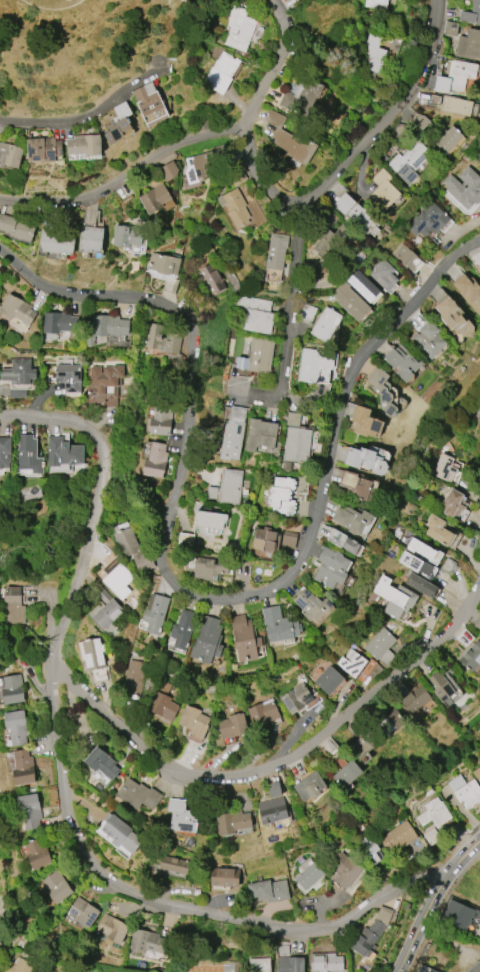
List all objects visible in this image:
building: (376, 4)
road: (56, 9)
building: (471, 13)
building: (239, 28)
building: (450, 28)
building: (469, 44)
park: (73, 46)
building: (372, 55)
road: (271, 69)
building: (222, 73)
building: (456, 77)
building: (303, 96)
building: (151, 104)
building: (457, 105)
road: (83, 117)
building: (119, 123)
building: (449, 139)
building: (291, 140)
building: (85, 145)
building: (45, 149)
road: (352, 154)
building: (10, 155)
building: (409, 162)
building: (198, 168)
building: (169, 171)
road: (119, 182)
building: (385, 190)
building: (463, 190)
building: (154, 198)
building: (235, 207)
building: (354, 212)
building: (428, 220)
building: (16, 227)
building: (128, 235)
building: (91, 239)
building: (331, 241)
building: (57, 243)
building: (277, 251)
building: (406, 257)
building: (164, 263)
building: (478, 268)
building: (383, 274)
building: (213, 278)
building: (169, 286)
building: (363, 286)
building: (469, 291)
building: (350, 301)
building: (18, 309)
building: (255, 313)
road: (290, 315)
building: (455, 318)
building: (60, 322)
building: (109, 325)
building: (325, 326)
building: (153, 337)
building: (428, 340)
building: (260, 355)
building: (403, 361)
building: (313, 364)
building: (19, 377)
building: (70, 377)
building: (104, 383)
road: (188, 386)
building: (383, 390)
road: (336, 417)
building: (160, 421)
building: (366, 423)
building: (260, 435)
building: (232, 436)
building: (297, 440)
building: (478, 441)
building: (63, 452)
building: (5, 453)
building: (28, 454)
building: (369, 459)
building: (157, 461)
building: (446, 468)
building: (359, 485)
building: (227, 488)
building: (282, 495)
building: (454, 504)
building: (211, 519)
building: (352, 519)
building: (438, 530)
building: (323, 531)
building: (128, 542)
building: (265, 542)
building: (343, 542)
building: (422, 549)
building: (416, 564)
building: (207, 567)
building: (332, 568)
building: (118, 578)
building: (421, 585)
building: (396, 597)
building: (312, 605)
building: (15, 607)
building: (105, 611)
building: (156, 614)
building: (478, 623)
building: (280, 624)
building: (184, 629)
building: (246, 638)
building: (208, 640)
building: (382, 647)
building: (472, 656)
building: (94, 659)
building: (352, 663)
building: (133, 678)
building: (329, 679)
building: (441, 687)
building: (13, 689)
building: (300, 698)
building: (416, 700)
building: (163, 703)
building: (264, 713)
building: (391, 719)
building: (194, 721)
building: (233, 726)
building: (17, 727)
building: (365, 743)
road: (277, 761)
building: (105, 764)
building: (23, 767)
building: (347, 774)
building: (477, 774)
building: (310, 786)
building: (273, 789)
building: (465, 791)
building: (139, 795)
road: (64, 799)
building: (30, 811)
building: (273, 812)
building: (435, 813)
building: (182, 816)
building: (235, 820)
building: (118, 834)
building: (398, 837)
building: (370, 848)
building: (37, 853)
building: (174, 864)
building: (345, 870)
building: (225, 876)
building: (310, 876)
building: (57, 887)
building: (269, 890)
road: (434, 904)
building: (84, 911)
building: (460, 914)
building: (113, 929)
building: (372, 932)
building: (148, 942)
building: (0, 944)
building: (1, 962)
building: (326, 962)
building: (291, 964)
building: (259, 965)
building: (19, 966)
building: (475, 967)
building: (177, 968)
building: (425, 969)

